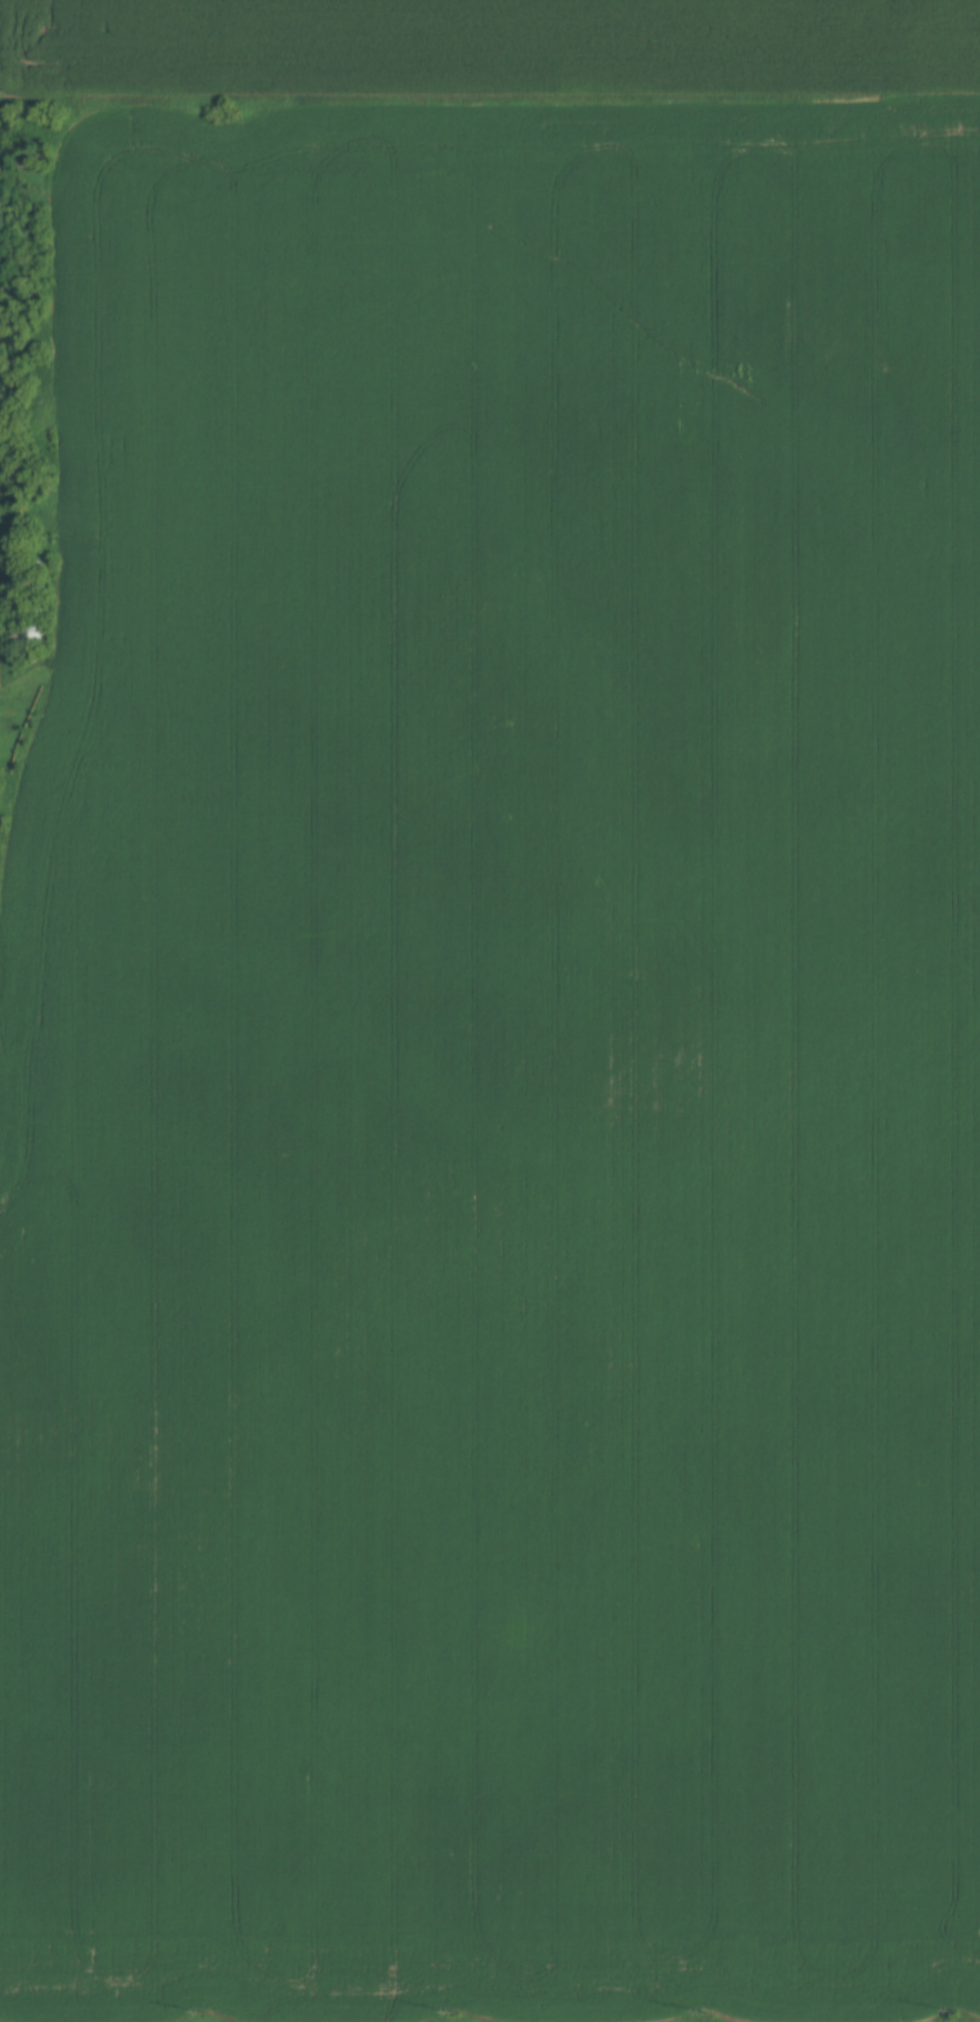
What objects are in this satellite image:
crop: (484, 46)
road: (490, 93)
building: (39, 564)
silo: (39, 564)
building: (39, 585)
silo: (39, 585)
building: (40, 609)
silo: (40, 609)
building: (34, 630)
silo: (34, 630)
crop: (499, 1076)

